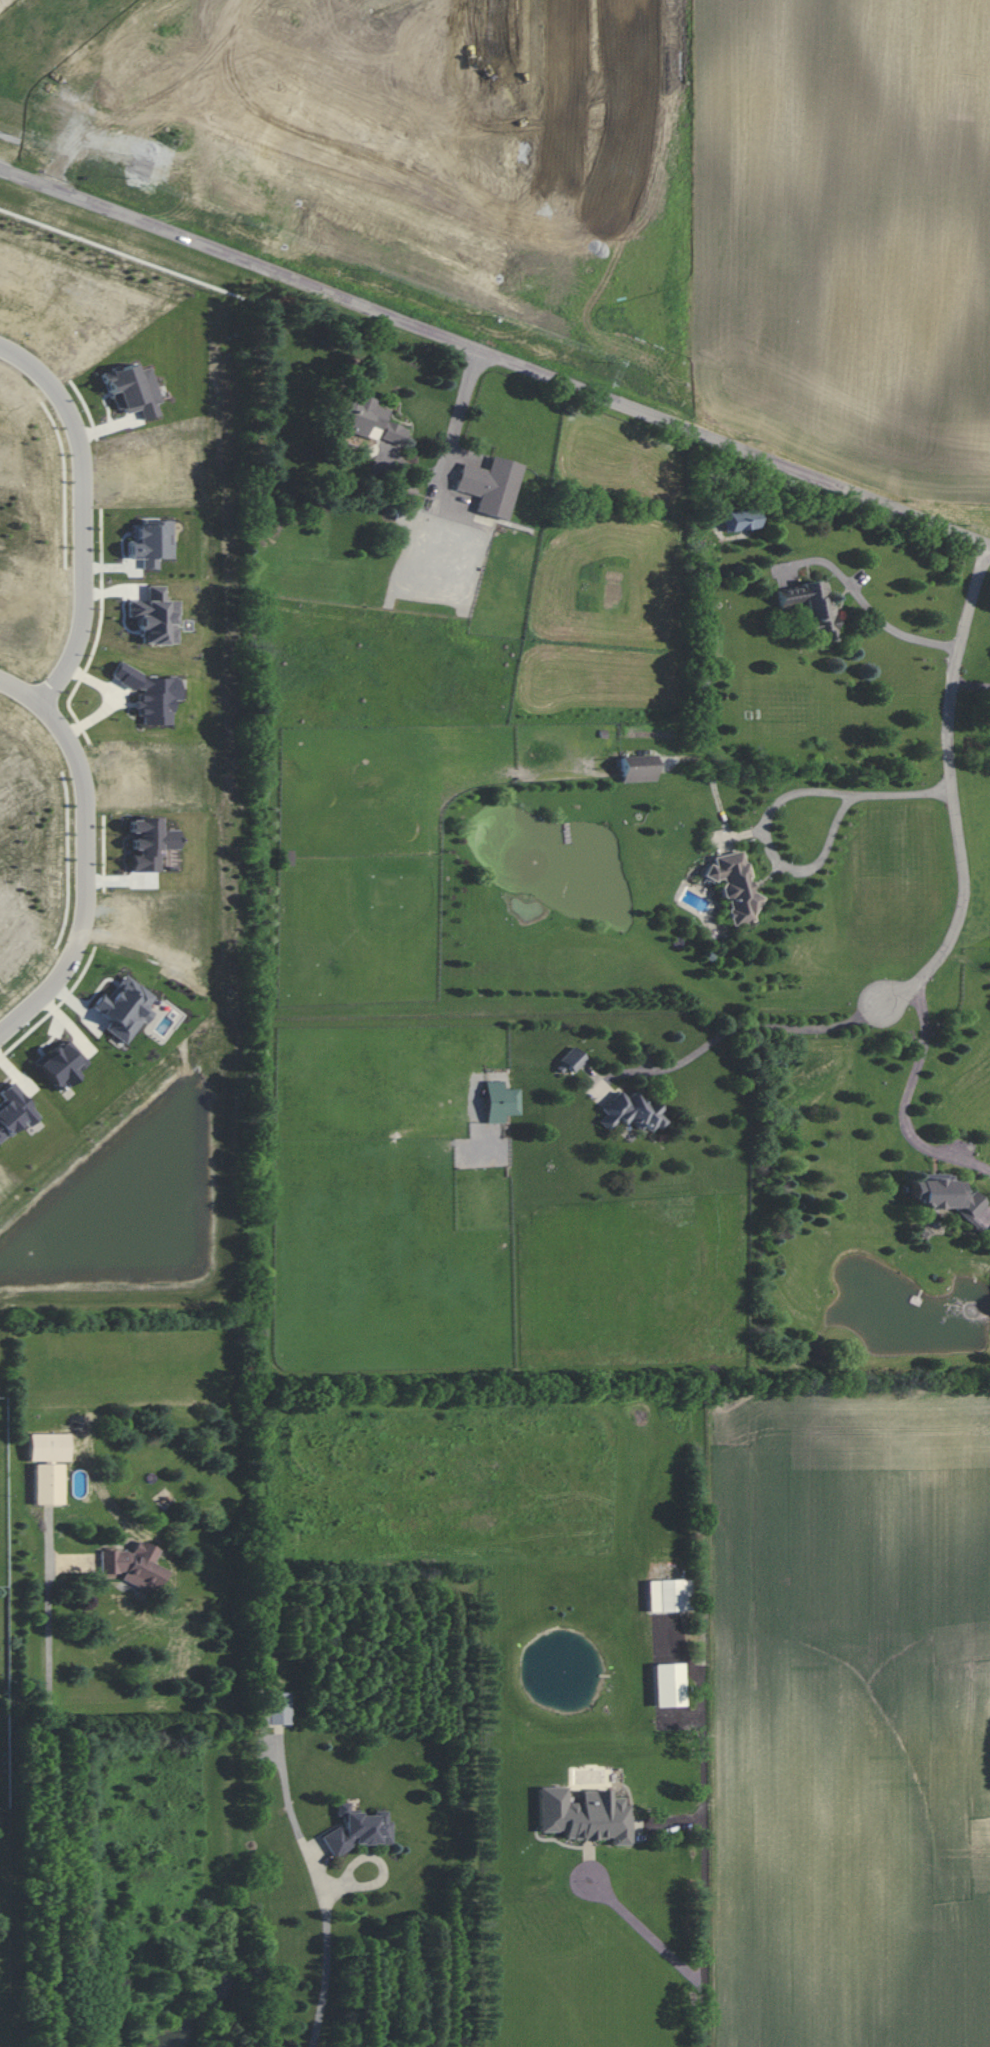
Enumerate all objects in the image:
road: (457, 129)
road: (10, 139)
crop: (848, 231)
road: (119, 253)
road: (495, 354)
building: (369, 420)
road: (446, 454)
building: (490, 485)
road: (84, 513)
building: (739, 520)
road: (863, 603)
building: (810, 605)
road: (972, 685)
building: (637, 768)
road: (953, 786)
road: (776, 809)
road: (86, 853)
building: (733, 886)
building: (123, 1008)
road: (739, 1025)
building: (572, 1058)
building: (60, 1064)
road: (906, 1100)
building: (500, 1101)
building: (13, 1109)
building: (631, 1112)
building: (946, 1195)
building: (989, 1234)
building: (47, 1447)
building: (47, 1483)
building: (134, 1565)
building: (666, 1594)
building: (668, 1684)
building: (275, 1707)
crop: (854, 1724)
road: (705, 1725)
road: (51, 1805)
building: (583, 1814)
building: (357, 1829)
road: (641, 1929)
road: (328, 1944)

